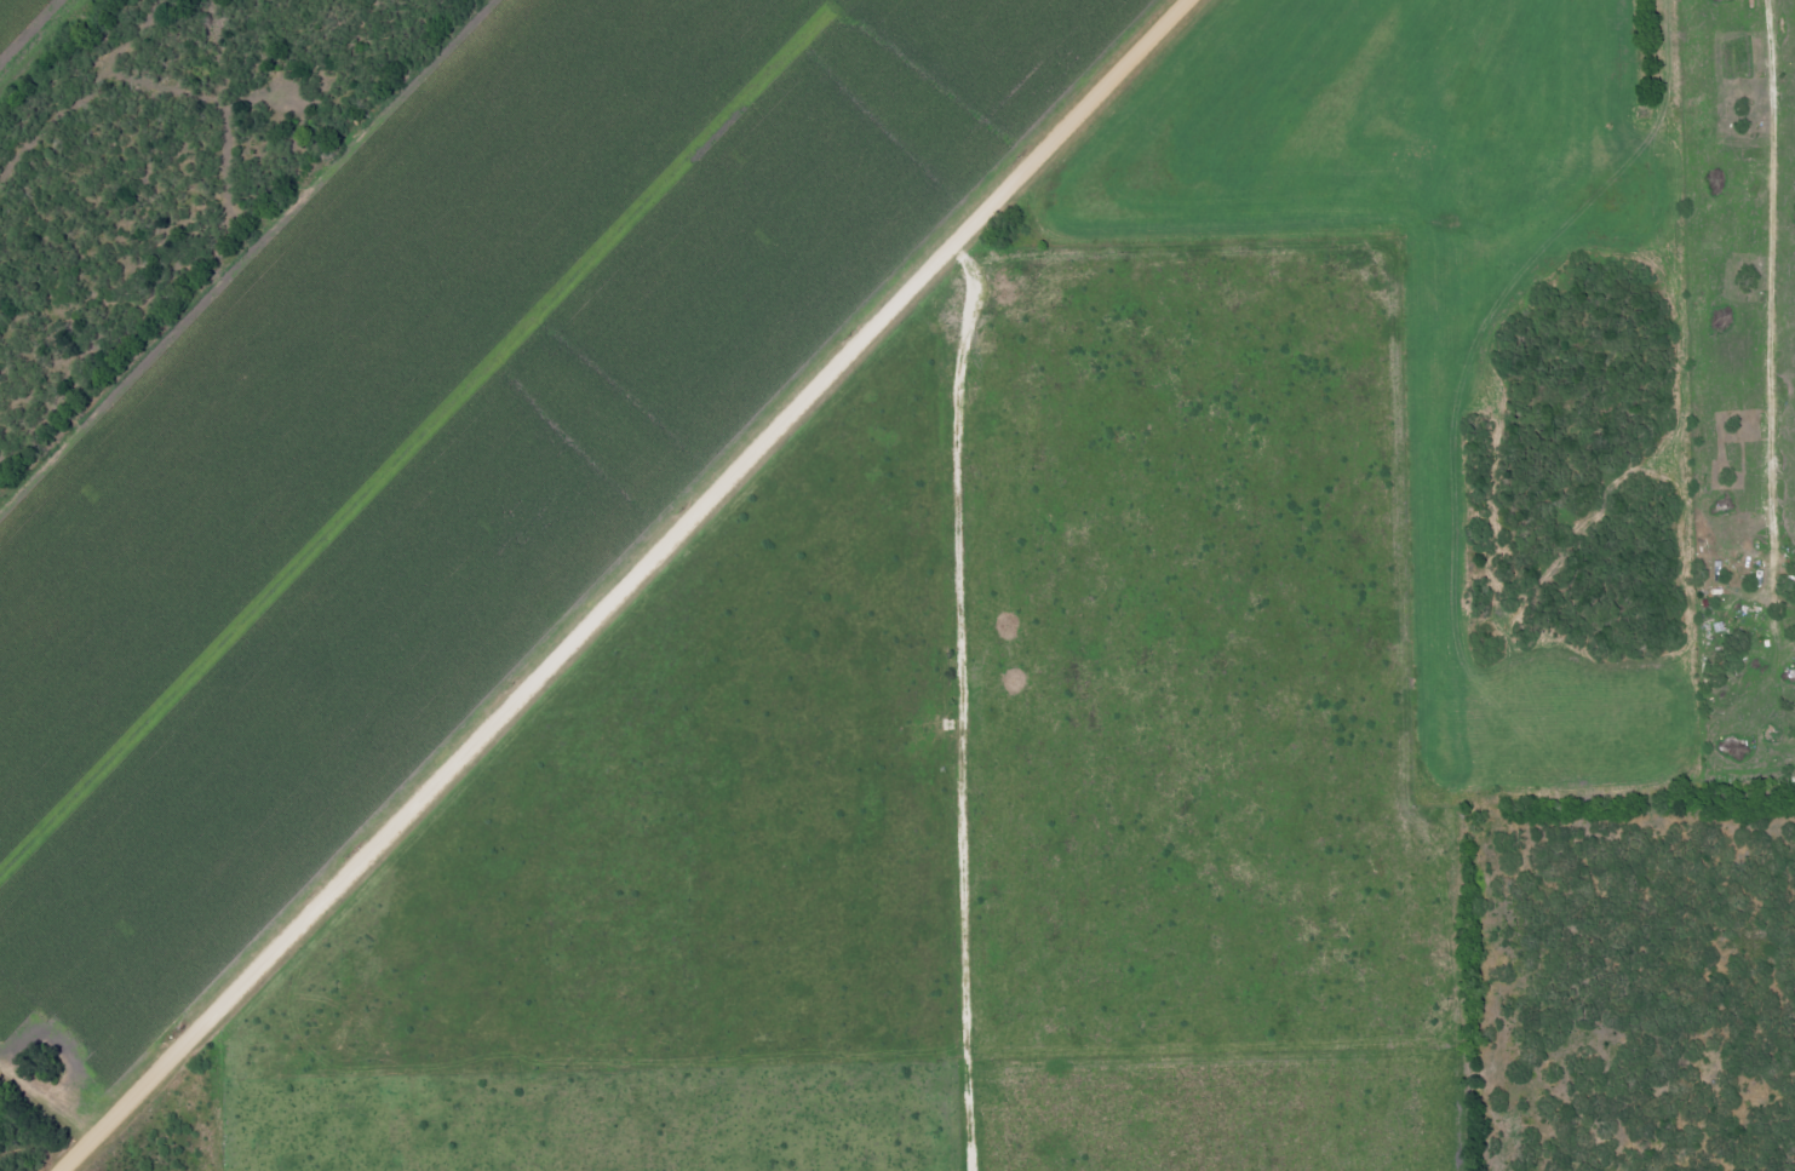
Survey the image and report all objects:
road: (626, 585)

